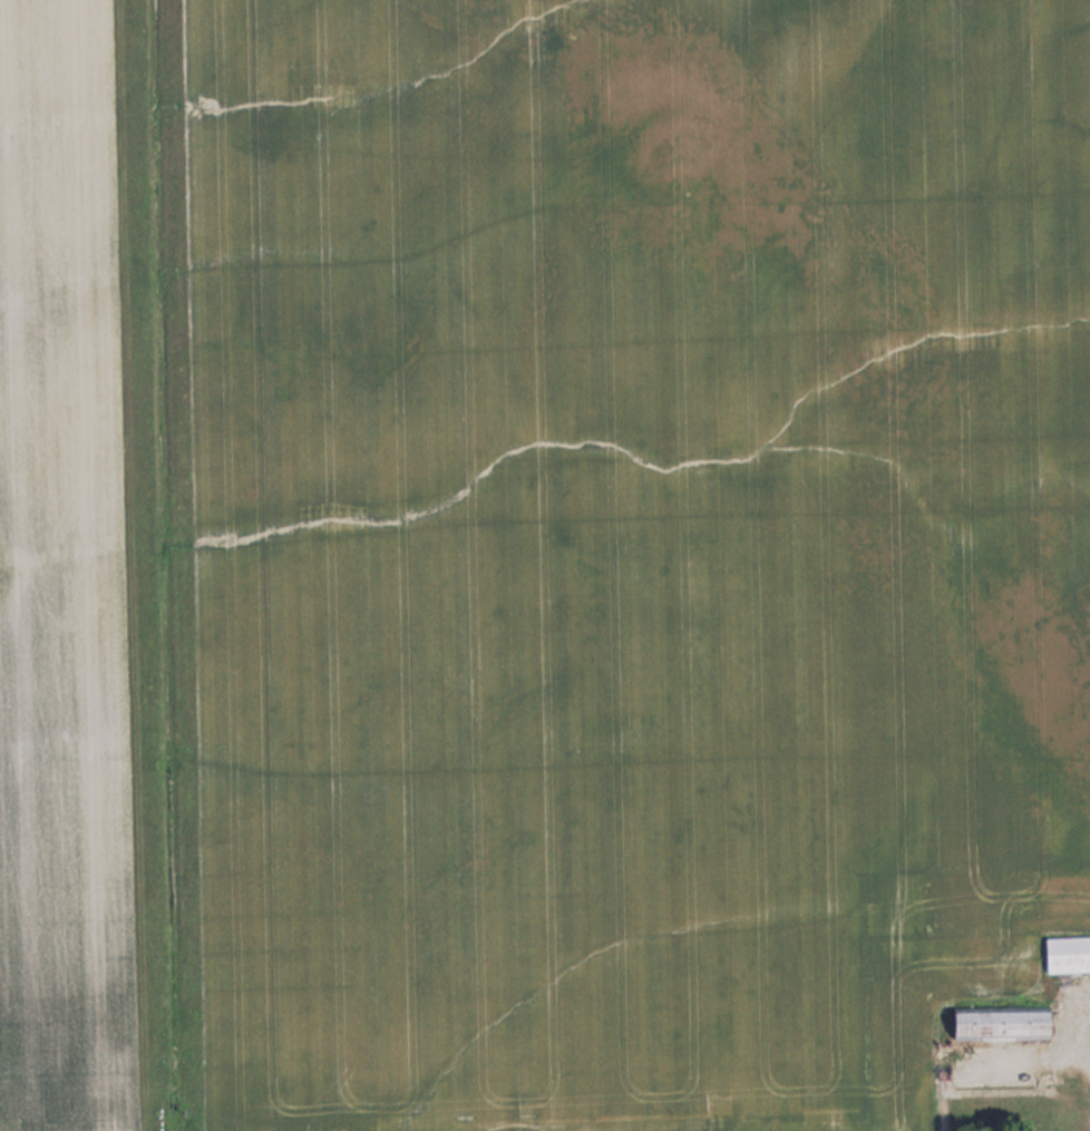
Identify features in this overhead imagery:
building: (1067, 954)
building: (999, 1024)

